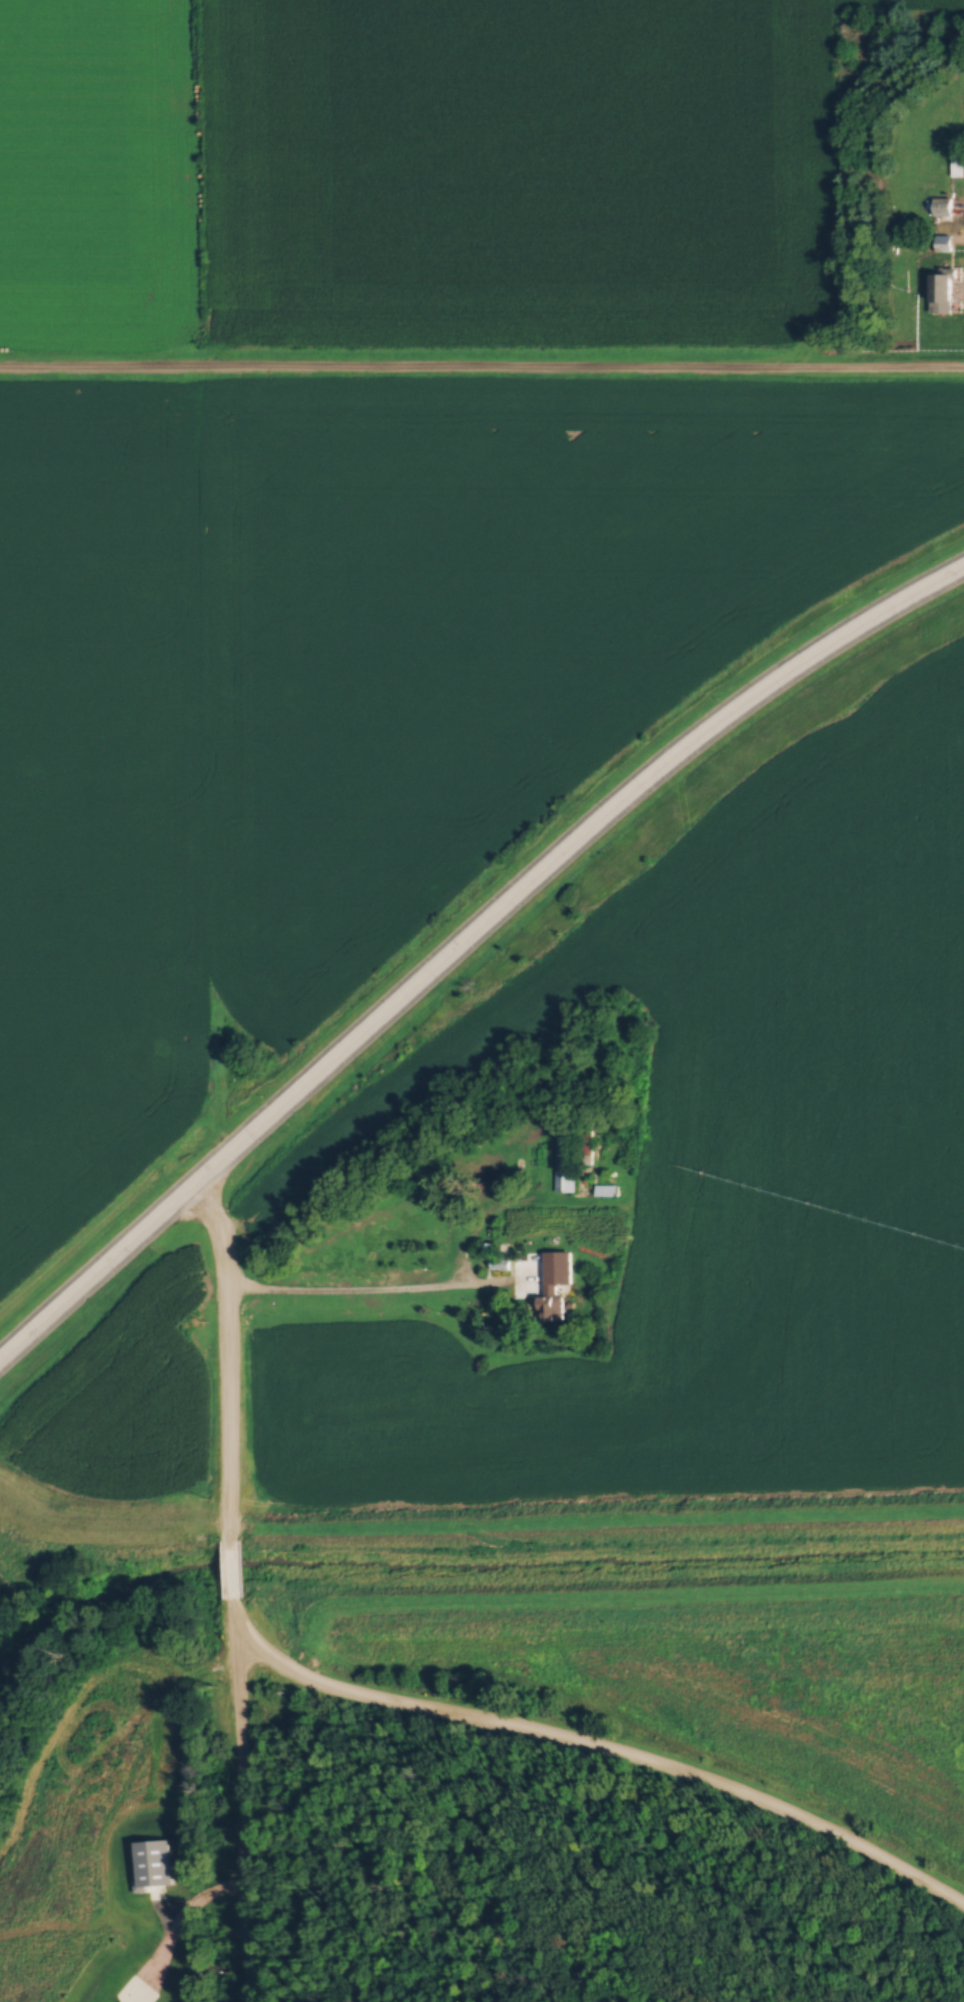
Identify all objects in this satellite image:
building: (957, 161)
building: (941, 203)
building: (942, 288)
road: (482, 368)
road: (465, 942)
building: (585, 1143)
building: (562, 1157)
road: (364, 1294)
building: (549, 1306)
road: (383, 1702)
road: (239, 1816)
road: (960, 1926)
road: (182, 1930)
building: (930, 2000)

